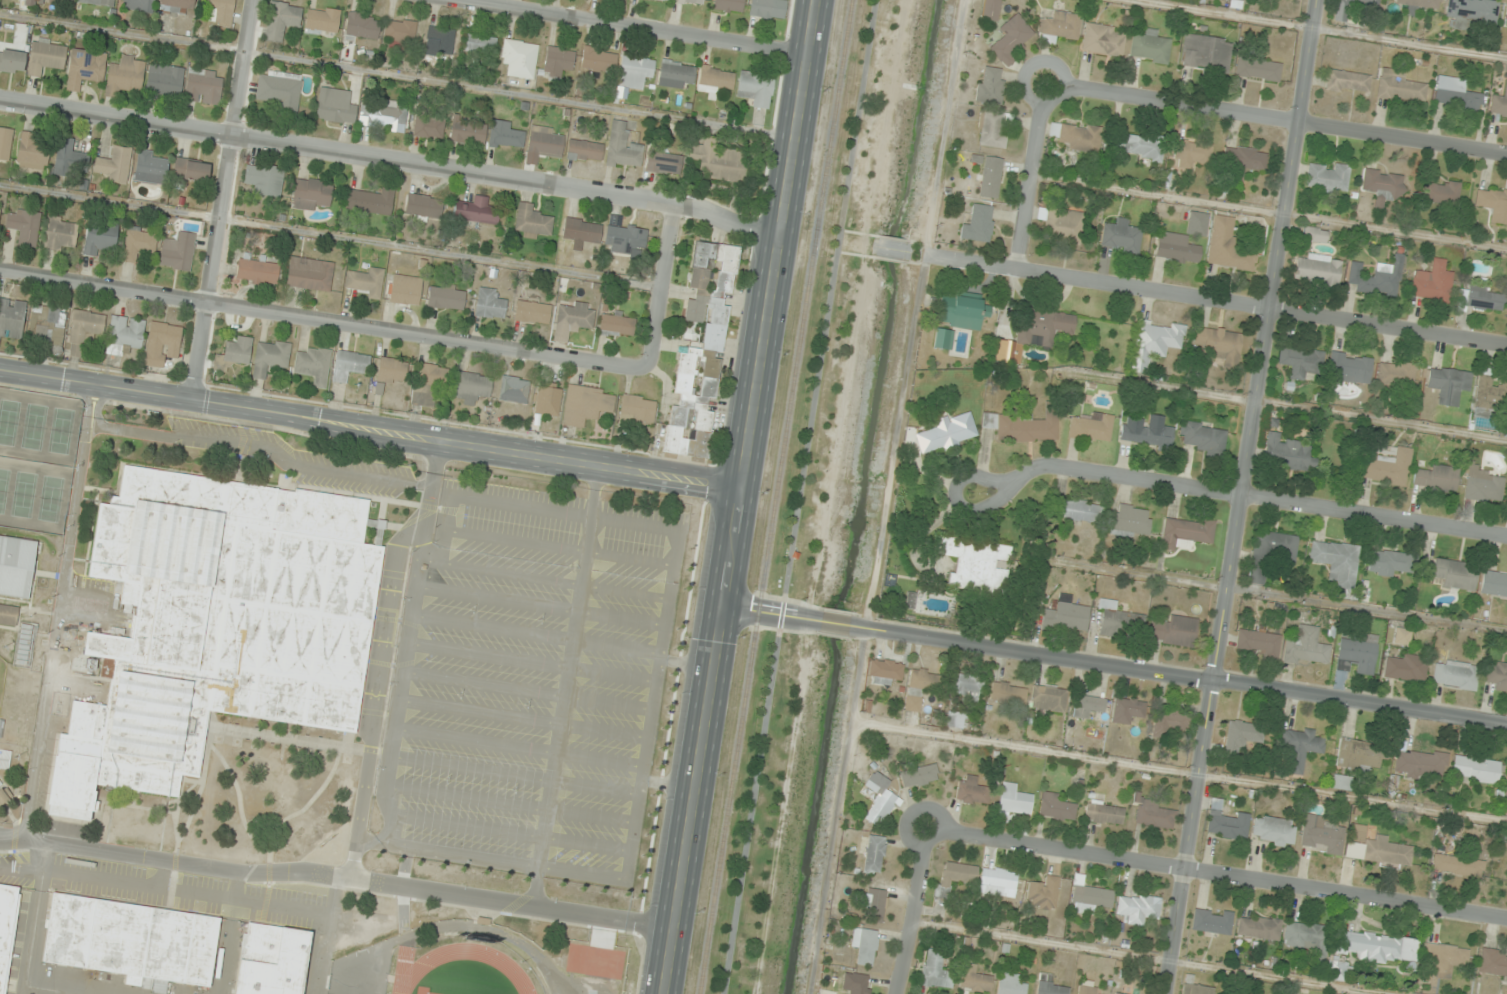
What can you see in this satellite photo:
building: (72, 0)
building: (667, 0)
building: (691, 1)
building: (1236, 1)
building: (29, 2)
building: (99, 2)
building: (137, 5)
building: (728, 5)
building: (1418, 5)
building: (176, 6)
building: (768, 9)
building: (990, 10)
building: (218, 11)
building: (1473, 11)
building: (1341, 13)
building: (1505, 18)
building: (322, 19)
building: (281, 20)
building: (1060, 25)
building: (362, 26)
road: (627, 28)
building: (400, 30)
building: (1012, 38)
building: (441, 39)
building: (1103, 39)
building: (480, 43)
building: (1150, 47)
building: (1205, 53)
building: (46, 56)
building: (519, 58)
building: (599, 59)
building: (12, 60)
building: (557, 60)
building: (85, 68)
building: (1258, 69)
building: (635, 71)
building: (677, 71)
building: (125, 75)
road: (398, 75)
building: (164, 80)
building: (714, 80)
building: (1347, 82)
building: (203, 86)
building: (990, 86)
building: (1399, 86)
building: (755, 88)
building: (279, 91)
building: (1455, 94)
building: (1499, 103)
building: (335, 106)
building: (384, 115)
road: (1276, 119)
building: (428, 127)
building: (993, 128)
building: (468, 130)
building: (505, 135)
building: (1074, 135)
building: (545, 141)
building: (5, 142)
building: (1137, 145)
building: (622, 147)
building: (584, 150)
building: (31, 151)
building: (1192, 154)
building: (70, 158)
road: (391, 160)
building: (719, 161)
building: (1242, 161)
building: (663, 162)
building: (115, 165)
building: (151, 167)
building: (191, 170)
road: (1033, 175)
building: (1328, 176)
building: (991, 177)
building: (264, 179)
building: (1384, 186)
building: (1441, 192)
building: (311, 193)
road: (223, 200)
building: (370, 202)
building: (1493, 203)
building: (0, 206)
building: (422, 207)
building: (475, 210)
building: (531, 222)
building: (979, 224)
building: (1062, 225)
building: (24, 226)
building: (581, 231)
building: (59, 233)
road: (329, 235)
building: (1314, 235)
building: (1120, 236)
building: (624, 238)
building: (99, 240)
building: (138, 242)
building: (1227, 246)
building: (1176, 249)
building: (178, 251)
building: (1317, 270)
building: (257, 271)
building: (310, 273)
building: (1378, 277)
building: (365, 282)
building: (1433, 283)
road: (660, 286)
building: (405, 289)
building: (446, 296)
building: (1481, 298)
road: (1217, 303)
building: (489, 304)
building: (962, 310)
building: (532, 312)
building: (575, 315)
building: (12, 318)
road: (323, 321)
building: (47, 325)
building: (617, 325)
building: (84, 329)
building: (1034, 332)
building: (124, 335)
building: (943, 338)
building: (1155, 342)
building: (162, 344)
building: (1219, 345)
building: (701, 350)
building: (234, 353)
building: (270, 357)
building: (1300, 360)
building: (350, 364)
building: (314, 365)
building: (1350, 367)
building: (390, 372)
building: (1396, 373)
building: (428, 382)
building: (1449, 384)
building: (471, 387)
building: (514, 389)
building: (1490, 393)
building: (548, 398)
building: (586, 404)
building: (637, 411)
park: (7, 421)
park: (32, 426)
building: (1024, 426)
building: (1092, 427)
road: (371, 429)
park: (59, 430)
building: (947, 432)
building: (1148, 434)
building: (1202, 437)
road: (243, 444)
building: (1288, 454)
road: (921, 464)
building: (1388, 468)
building: (1435, 478)
building: (1482, 484)
park: (3, 486)
park: (22, 494)
railway: (774, 496)
road: (740, 497)
road: (799, 497)
road: (1243, 497)
park: (49, 498)
road: (953, 498)
road: (1257, 498)
building: (1077, 510)
road: (445, 511)
building: (1129, 522)
building: (1186, 532)
road: (587, 538)
building: (1271, 554)
road: (628, 558)
building: (1337, 561)
building: (1390, 562)
building: (15, 565)
building: (976, 565)
building: (1455, 573)
road: (540, 578)
building: (1494, 583)
road: (495, 599)
road: (57, 611)
road: (769, 613)
building: (7, 614)
building: (1066, 614)
road: (619, 618)
building: (1119, 621)
road: (838, 623)
building: (214, 625)
building: (1174, 630)
road: (535, 633)
building: (1402, 636)
road: (571, 639)
building: (1259, 643)
building: (25, 644)
building: (1306, 647)
road: (380, 654)
road: (487, 655)
building: (1356, 656)
building: (1405, 666)
building: (884, 671)
park: (1, 672)
road: (611, 675)
building: (1456, 675)
building: (1497, 676)
road: (1183, 678)
parking lot: (526, 681)
road: (565, 682)
road: (482, 683)
building: (921, 686)
building: (968, 687)
building: (1008, 692)
building: (1048, 698)
road: (606, 702)
road: (650, 703)
building: (1087, 706)
building: (1127, 709)
road: (561, 710)
road: (478, 712)
building: (954, 720)
building: (1170, 723)
road: (602, 731)
building: (1241, 737)
road: (557, 738)
road: (474, 740)
building: (1299, 746)
road: (389, 753)
building: (1359, 755)
road: (598, 758)
building: (4, 759)
building: (1421, 763)
building: (1476, 770)
road: (513, 774)
building: (918, 774)
building: (1342, 782)
building: (971, 790)
building: (879, 799)
building: (1014, 801)
road: (509, 804)
building: (1056, 807)
building: (1104, 813)
building: (1152, 813)
building: (1225, 822)
road: (543, 830)
building: (1274, 830)
road: (509, 832)
building: (1321, 835)
building: (1376, 847)
building: (875, 853)
building: (1458, 865)
road: (337, 876)
road: (1214, 876)
building: (954, 878)
building: (998, 880)
building: (1043, 893)
building: (1091, 898)
building: (874, 904)
building: (1138, 908)
road: (918, 912)
building: (1212, 921)
building: (1259, 927)
building: (7, 928)
road: (328, 935)
building: (1308, 937)
building: (131, 939)
building: (864, 944)
building: (1378, 946)
building: (1442, 959)
building: (271, 961)
building: (1493, 963)
track: (413, 967)
building: (936, 969)
building: (1339, 973)
building: (975, 979)
building: (854, 982)
building: (1011, 984)
building: (1049, 985)
building: (1086, 986)
building: (1197, 989)
building: (1118, 993)

